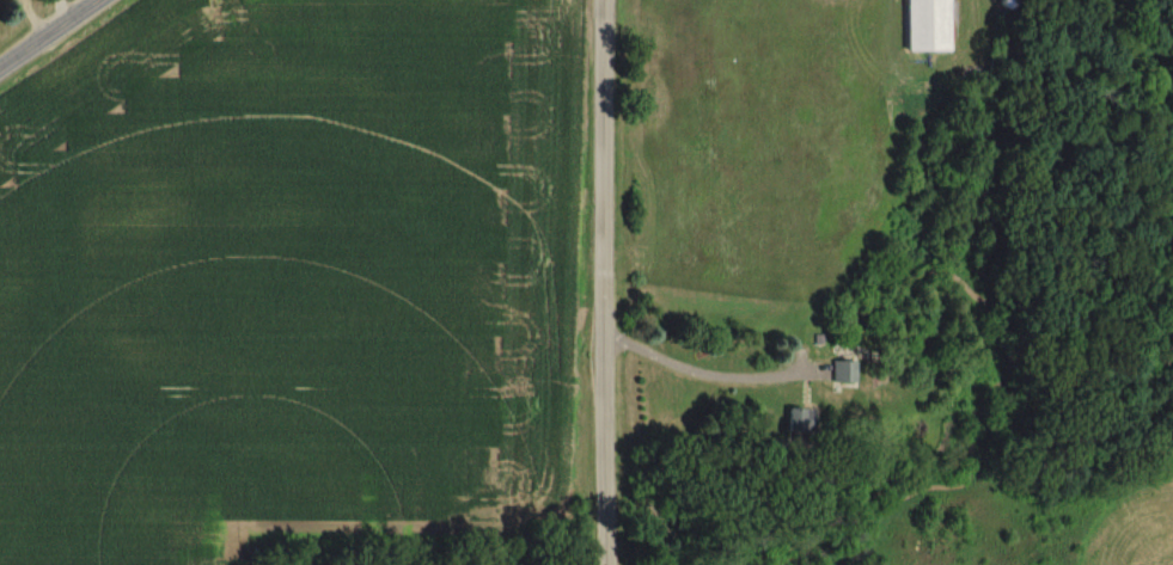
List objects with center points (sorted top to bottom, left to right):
road: (61, 13)
building: (925, 25)
road: (53, 35)
road: (609, 282)
road: (710, 373)
building: (841, 373)
building: (796, 420)

